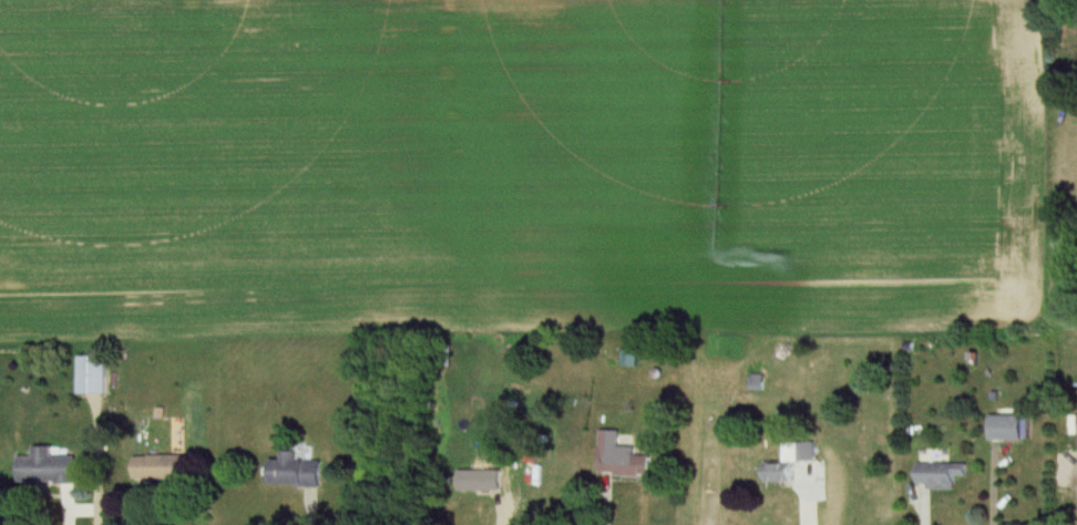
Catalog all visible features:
building: (93, 375)
building: (1005, 428)
building: (620, 456)
building: (790, 460)
building: (158, 466)
building: (47, 467)
building: (295, 470)
building: (938, 474)
building: (480, 480)

